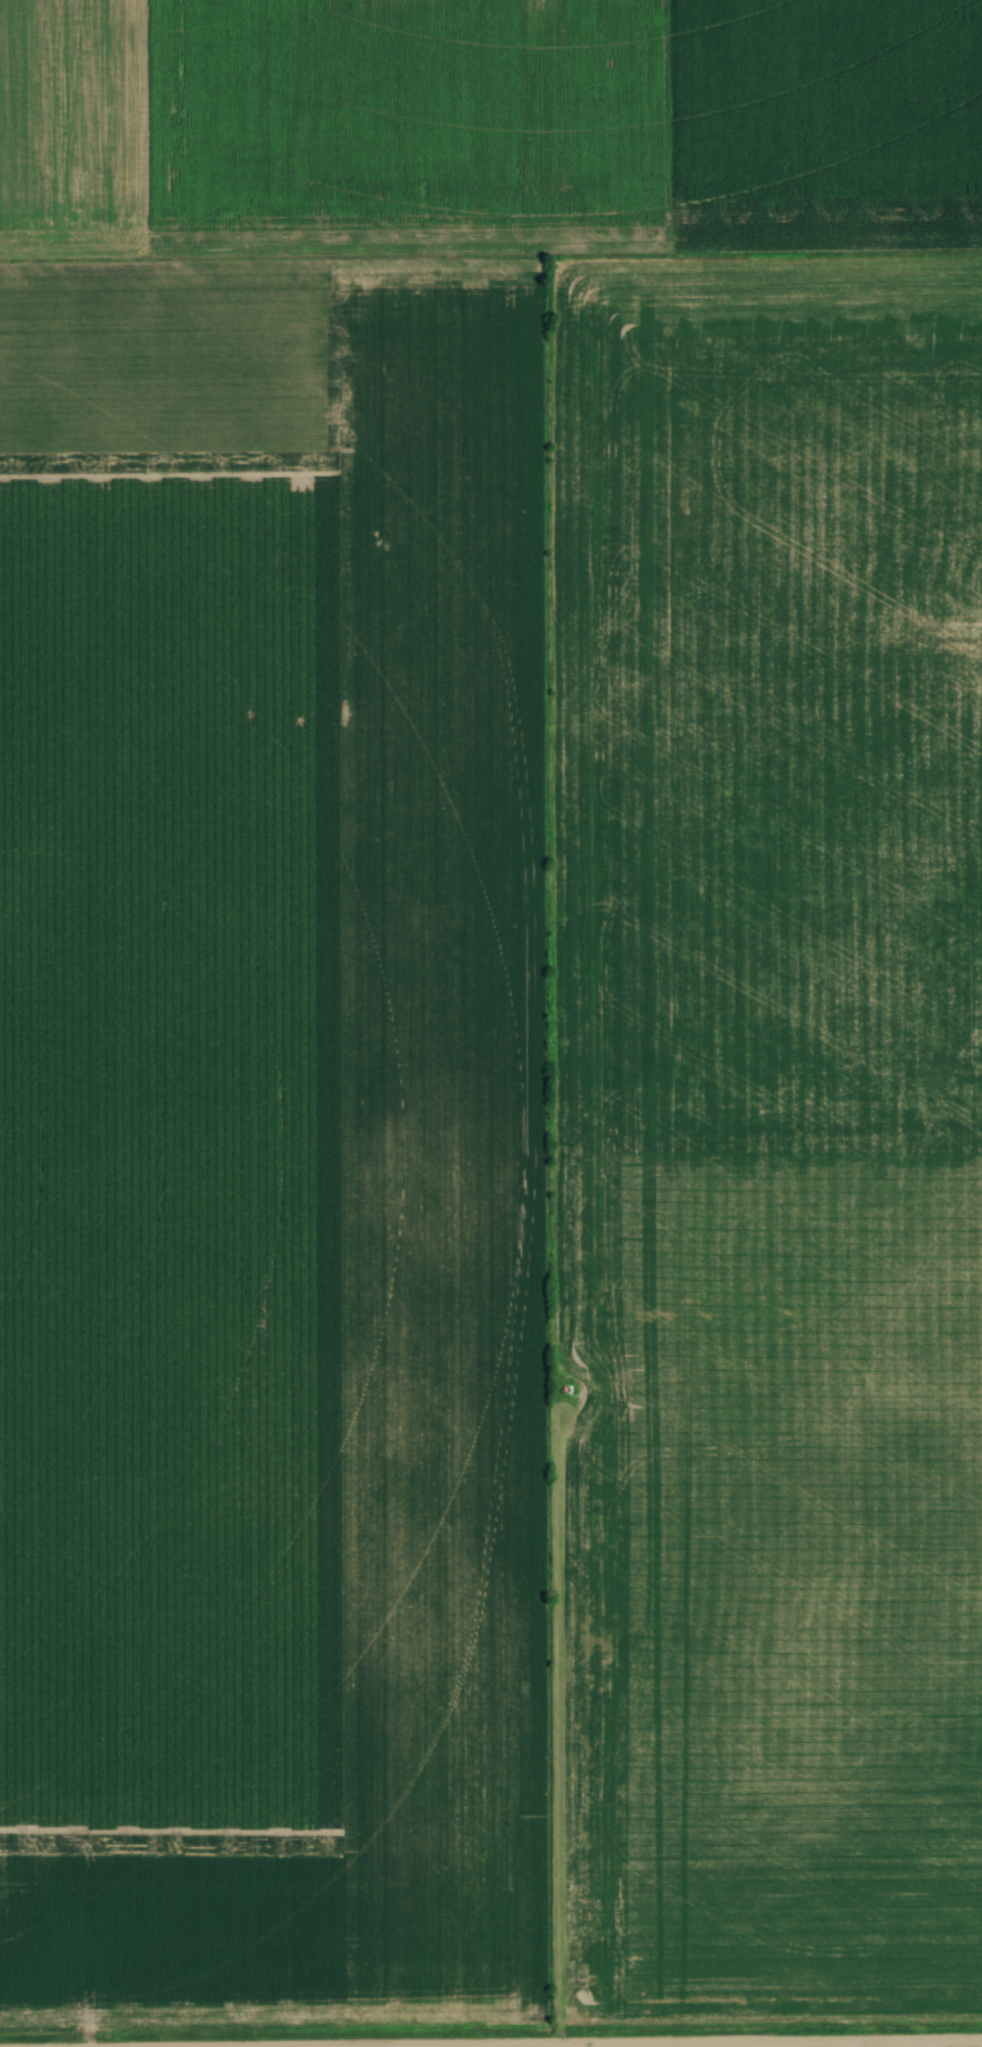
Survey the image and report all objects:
road: (932, 2046)

